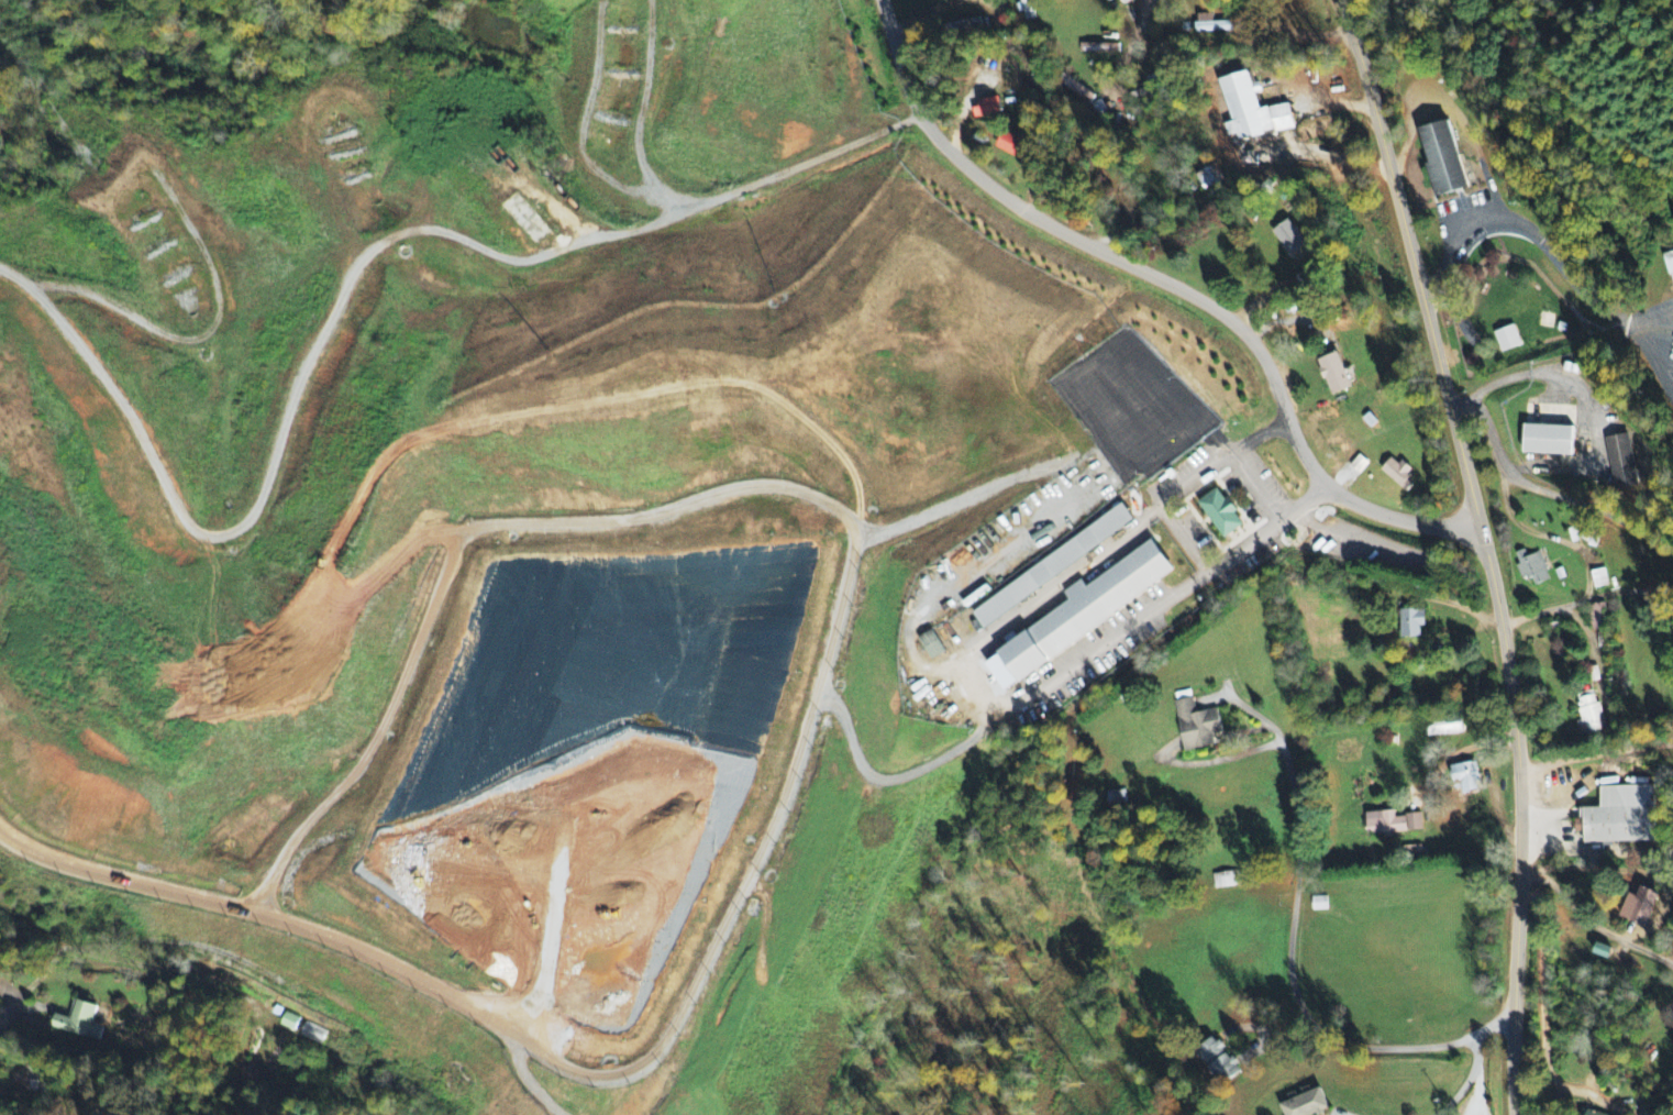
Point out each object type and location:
building: (1126, 1)
building: (1026, 10)
building: (1214, 25)
road: (1131, 38)
building: (1109, 51)
road: (1265, 91)
building: (986, 109)
building: (1250, 111)
building: (1015, 147)
building: (1443, 161)
building: (1209, 178)
building: (1288, 239)
building: (1670, 268)
road: (1168, 283)
building: (1506, 340)
building: (1334, 375)
building: (1548, 441)
building: (1621, 463)
building: (1359, 466)
building: (1398, 475)
building: (1220, 515)
road: (1483, 550)
building: (1052, 567)
building: (1532, 568)
building: (1599, 579)
building: (1082, 615)
building: (1596, 617)
building: (1412, 625)
building: (931, 647)
building: (1589, 715)
building: (1197, 727)
building: (1443, 728)
building: (1466, 777)
building: (1117, 799)
building: (1616, 818)
building: (1392, 825)
building: (1225, 882)
building: (1643, 904)
building: (1319, 905)
building: (1602, 951)
building: (79, 1022)
building: (288, 1022)
building: (311, 1035)
road: (1376, 1045)
building: (1217, 1060)
road: (1467, 1078)
building: (1305, 1104)
building: (1593, 1113)

